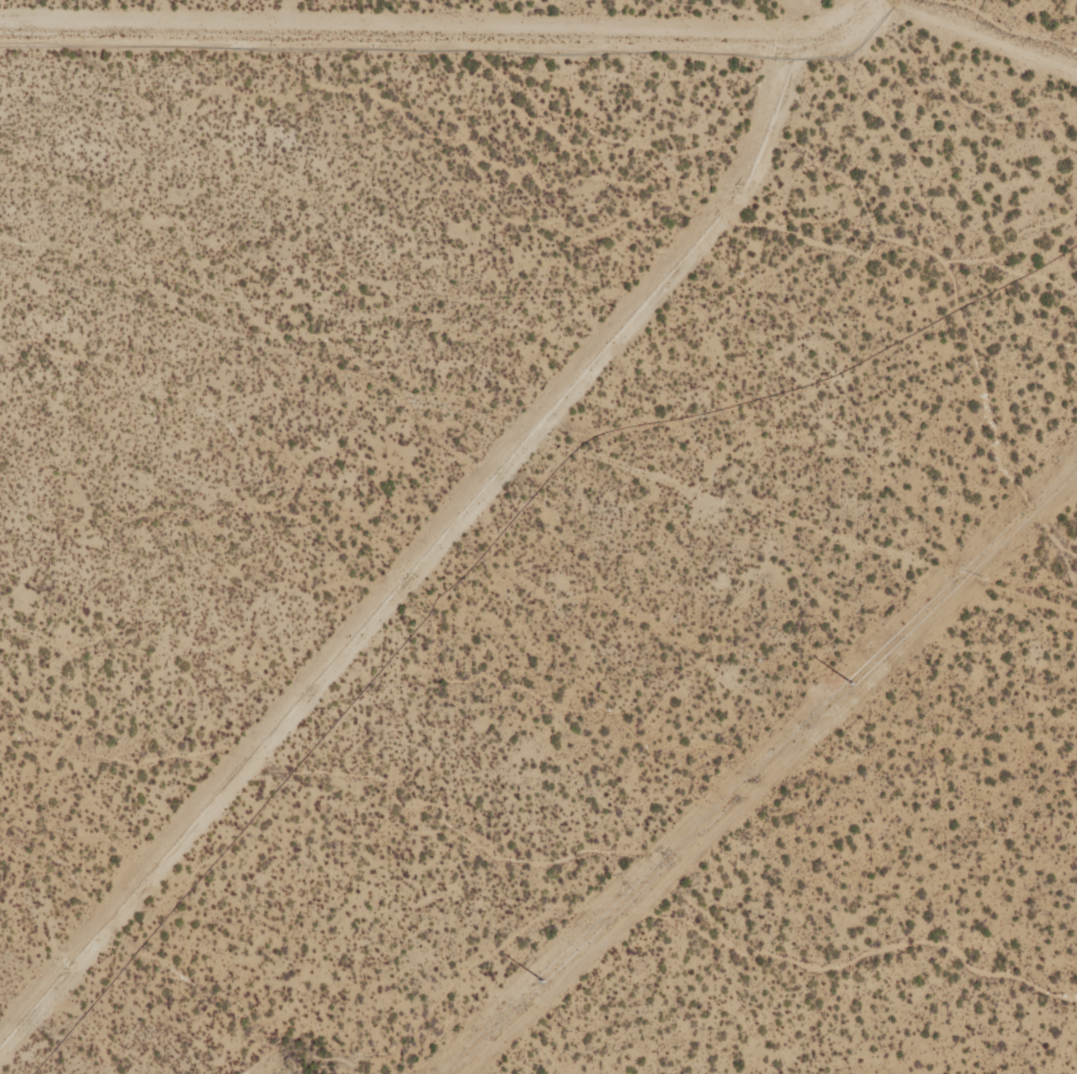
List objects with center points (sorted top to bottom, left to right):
road: (538, 411)

